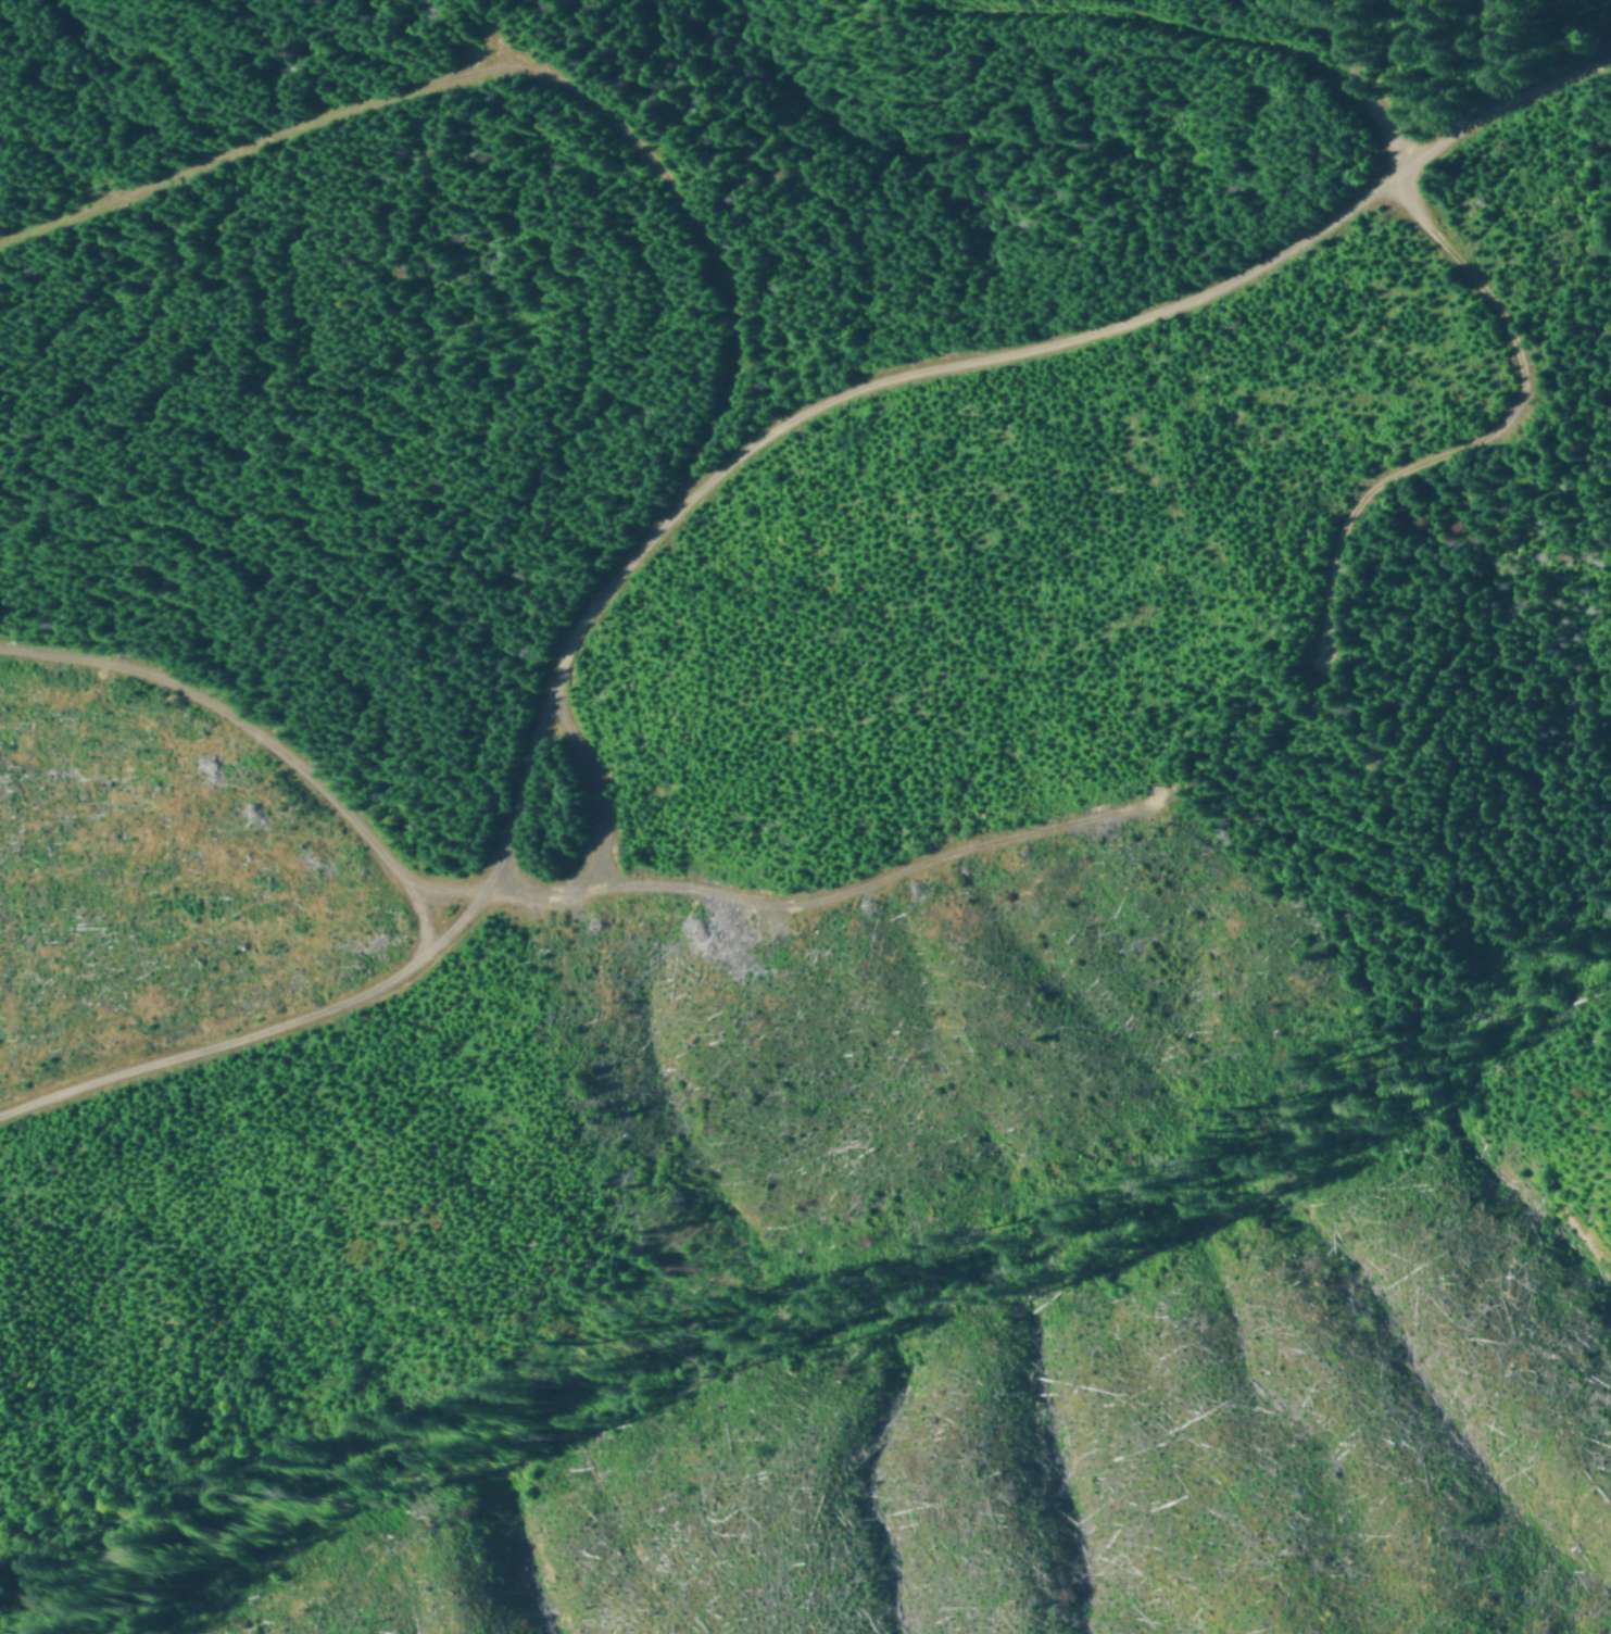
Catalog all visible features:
road: (720, 504)

